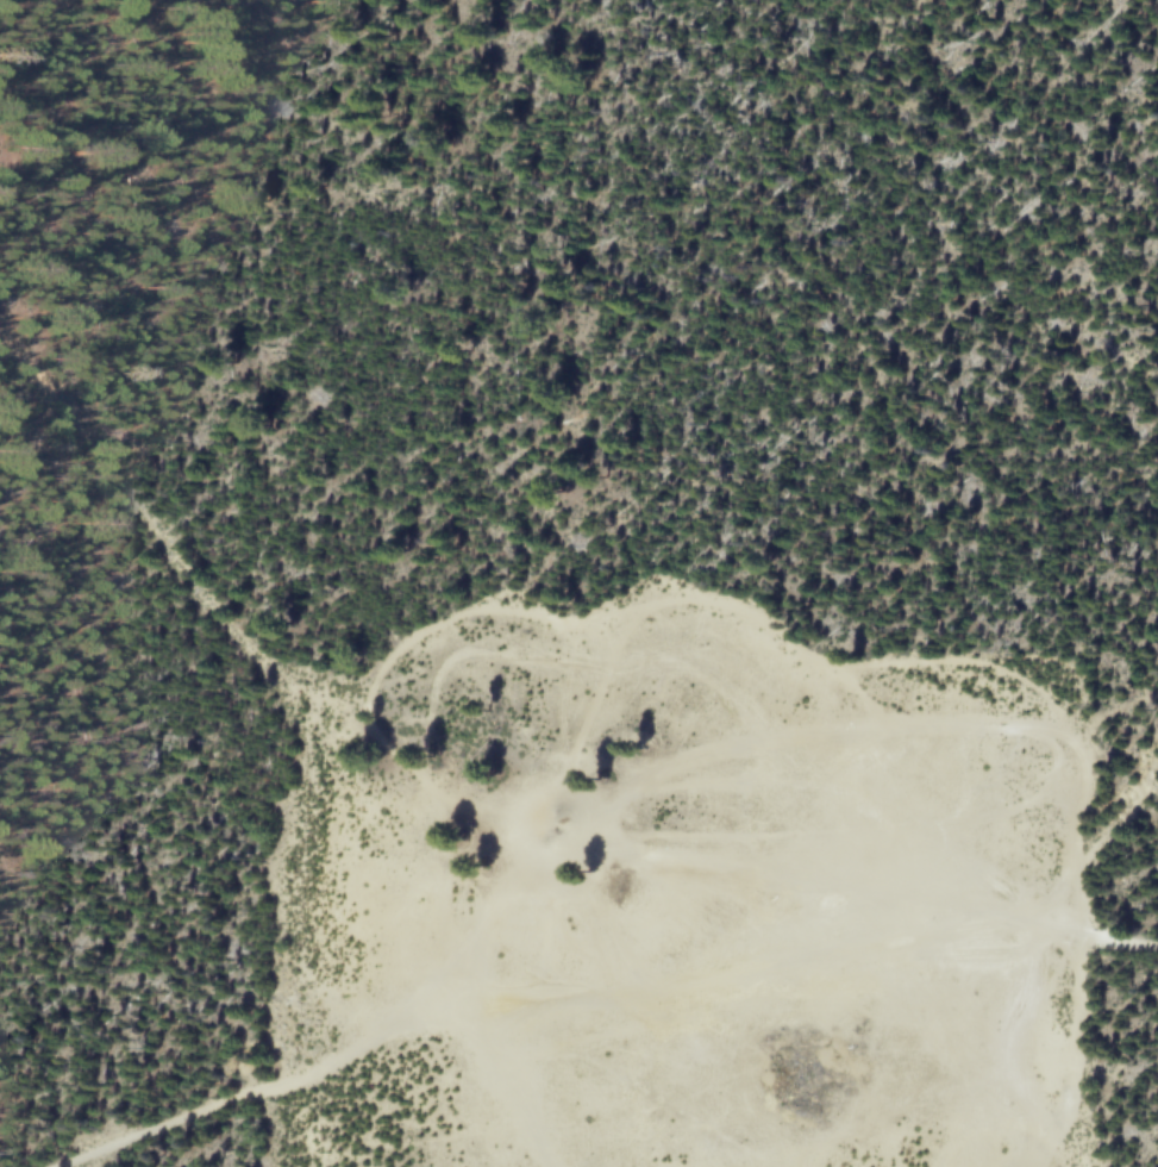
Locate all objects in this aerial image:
road: (1104, 841)
road: (597, 992)

